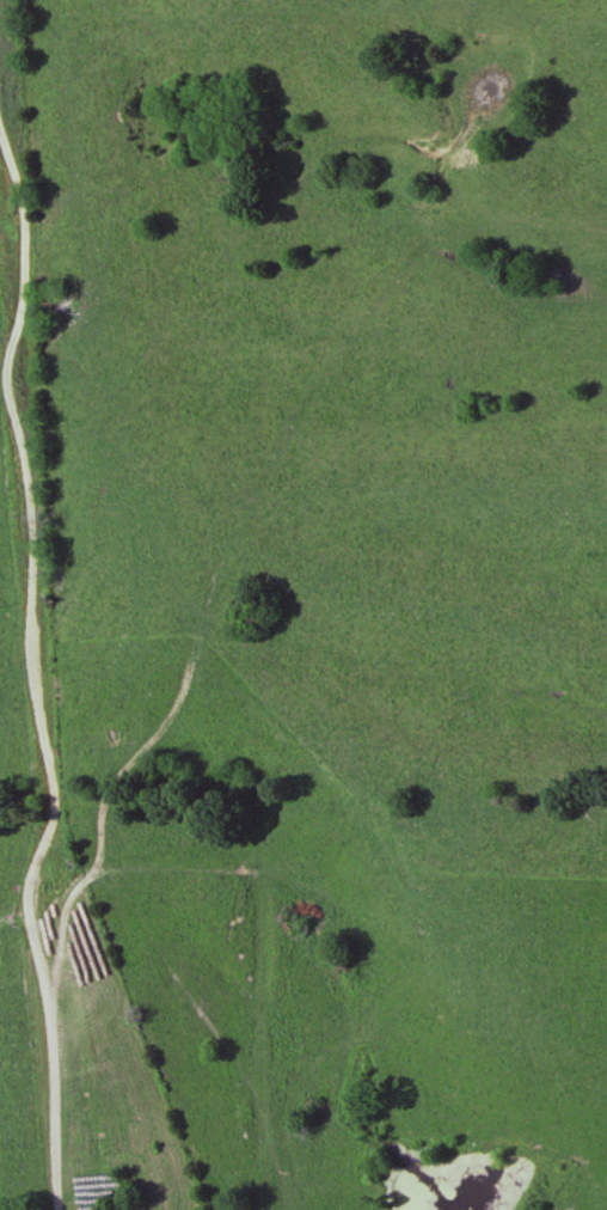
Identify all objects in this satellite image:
road: (32, 658)

